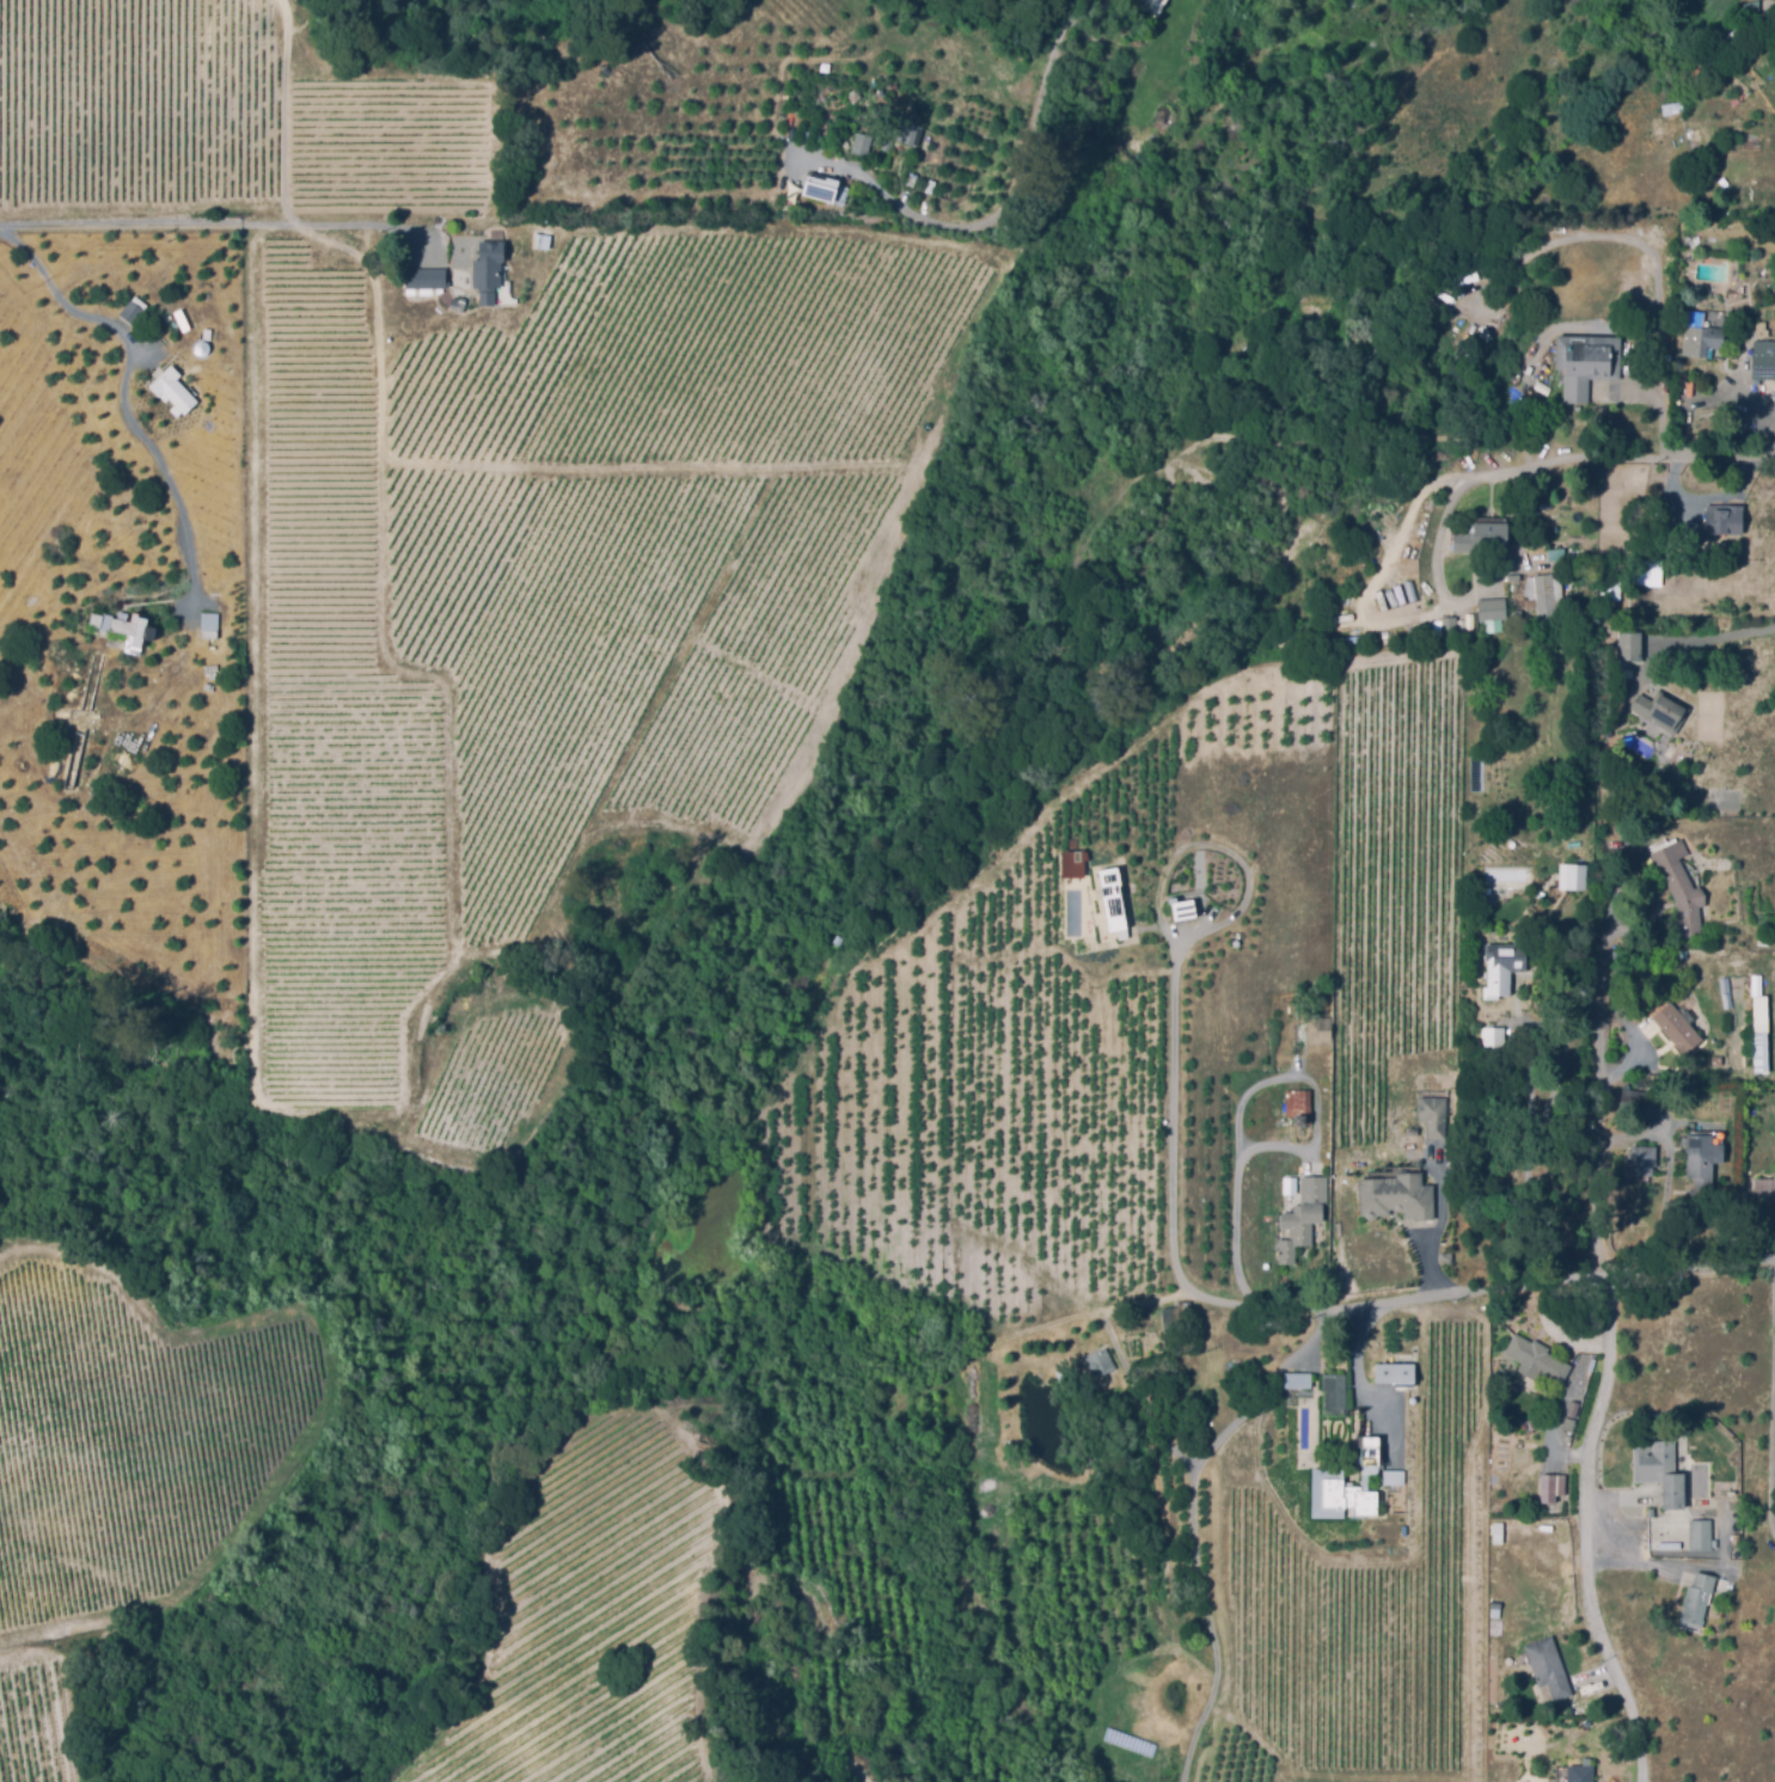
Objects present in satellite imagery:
building: (1153, 7)
building: (1724, 48)
building: (1701, 76)
road: (1054, 79)
building: (1667, 106)
building: (898, 125)
building: (863, 142)
building: (833, 190)
building: (798, 197)
road: (911, 214)
road: (194, 226)
building: (541, 240)
building: (489, 269)
building: (424, 282)
building: (1712, 344)
road: (1660, 351)
building: (1764, 359)
building: (1586, 362)
road: (122, 393)
building: (180, 398)
building: (1639, 445)
building: (1477, 461)
road: (1551, 466)
building: (1725, 519)
building: (1482, 538)
road: (1385, 552)
building: (1556, 552)
building: (1651, 571)
building: (1546, 595)
building: (1492, 607)
building: (209, 625)
building: (1443, 626)
building: (122, 627)
building: (1410, 632)
road: (1716, 642)
building: (1630, 645)
building: (1659, 712)
building: (1608, 730)
building: (1679, 817)
building: (1661, 821)
building: (1072, 863)
building: (1575, 878)
building: (1681, 886)
building: (1110, 899)
building: (1179, 910)
building: (1764, 938)
building: (1508, 969)
building: (1621, 1006)
building: (1758, 1011)
building: (1673, 1023)
building: (1314, 1025)
building: (1495, 1041)
building: (1759, 1052)
road: (1253, 1092)
building: (1630, 1102)
building: (1299, 1107)
building: (1433, 1115)
building: (1644, 1162)
road: (1667, 1165)
road: (1169, 1166)
building: (1702, 1170)
road: (1596, 1175)
building: (1763, 1189)
building: (1395, 1195)
building: (1299, 1218)
road: (1664, 1229)
road: (1442, 1233)
building: (1446, 1259)
road: (1546, 1281)
building: (1176, 1316)
building: (1537, 1359)
building: (1100, 1362)
building: (1394, 1371)
building: (1302, 1389)
building: (1335, 1390)
building: (1569, 1423)
building: (1336, 1431)
building: (1367, 1455)
building: (1661, 1471)
building: (1391, 1478)
building: (1549, 1487)
building: (1336, 1498)
road: (1584, 1532)
building: (1701, 1535)
building: (1697, 1598)
building: (1549, 1670)
building: (1549, 1757)
building: (1580, 1774)

